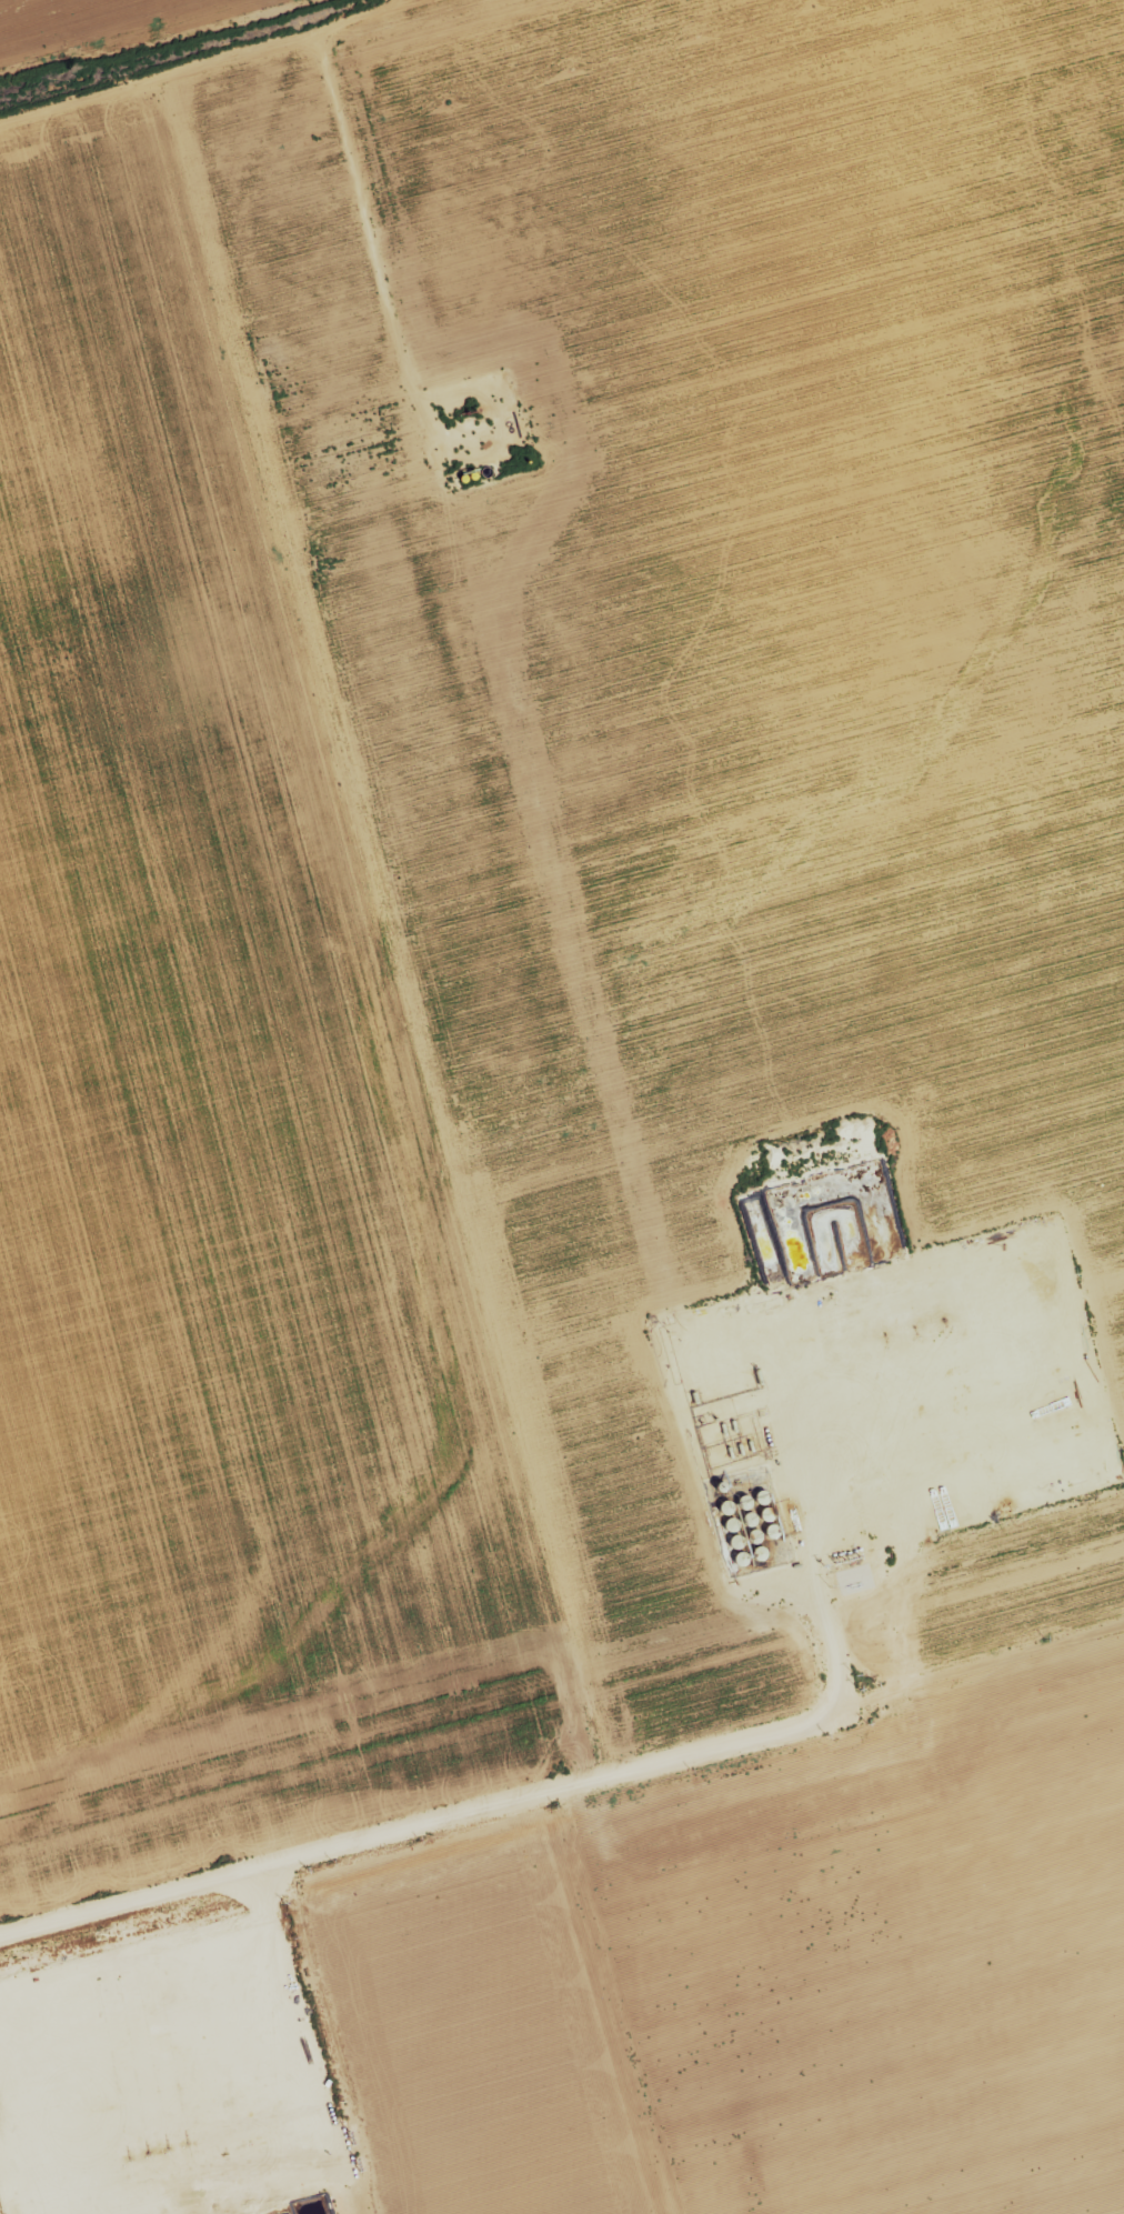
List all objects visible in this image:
road: (253, 67)

